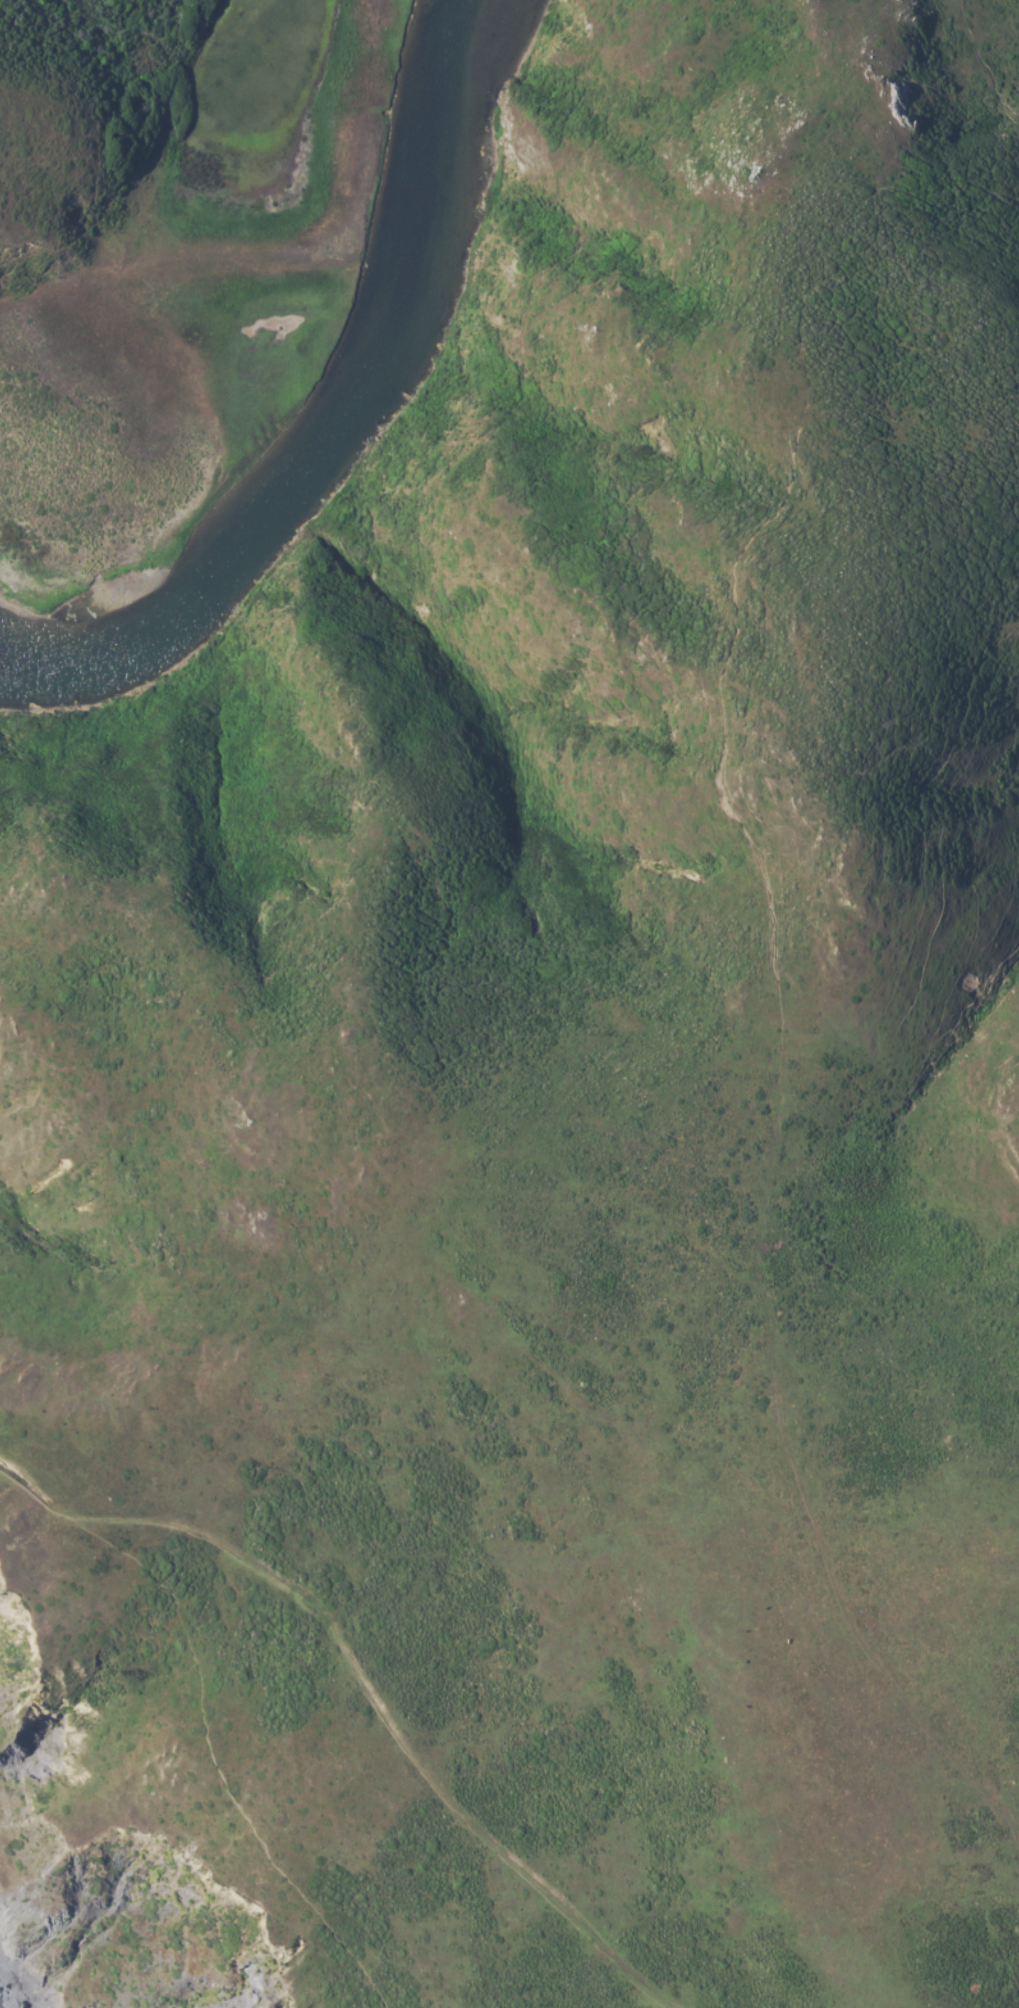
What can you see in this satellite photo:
road: (383, 1717)
road: (204, 1722)

